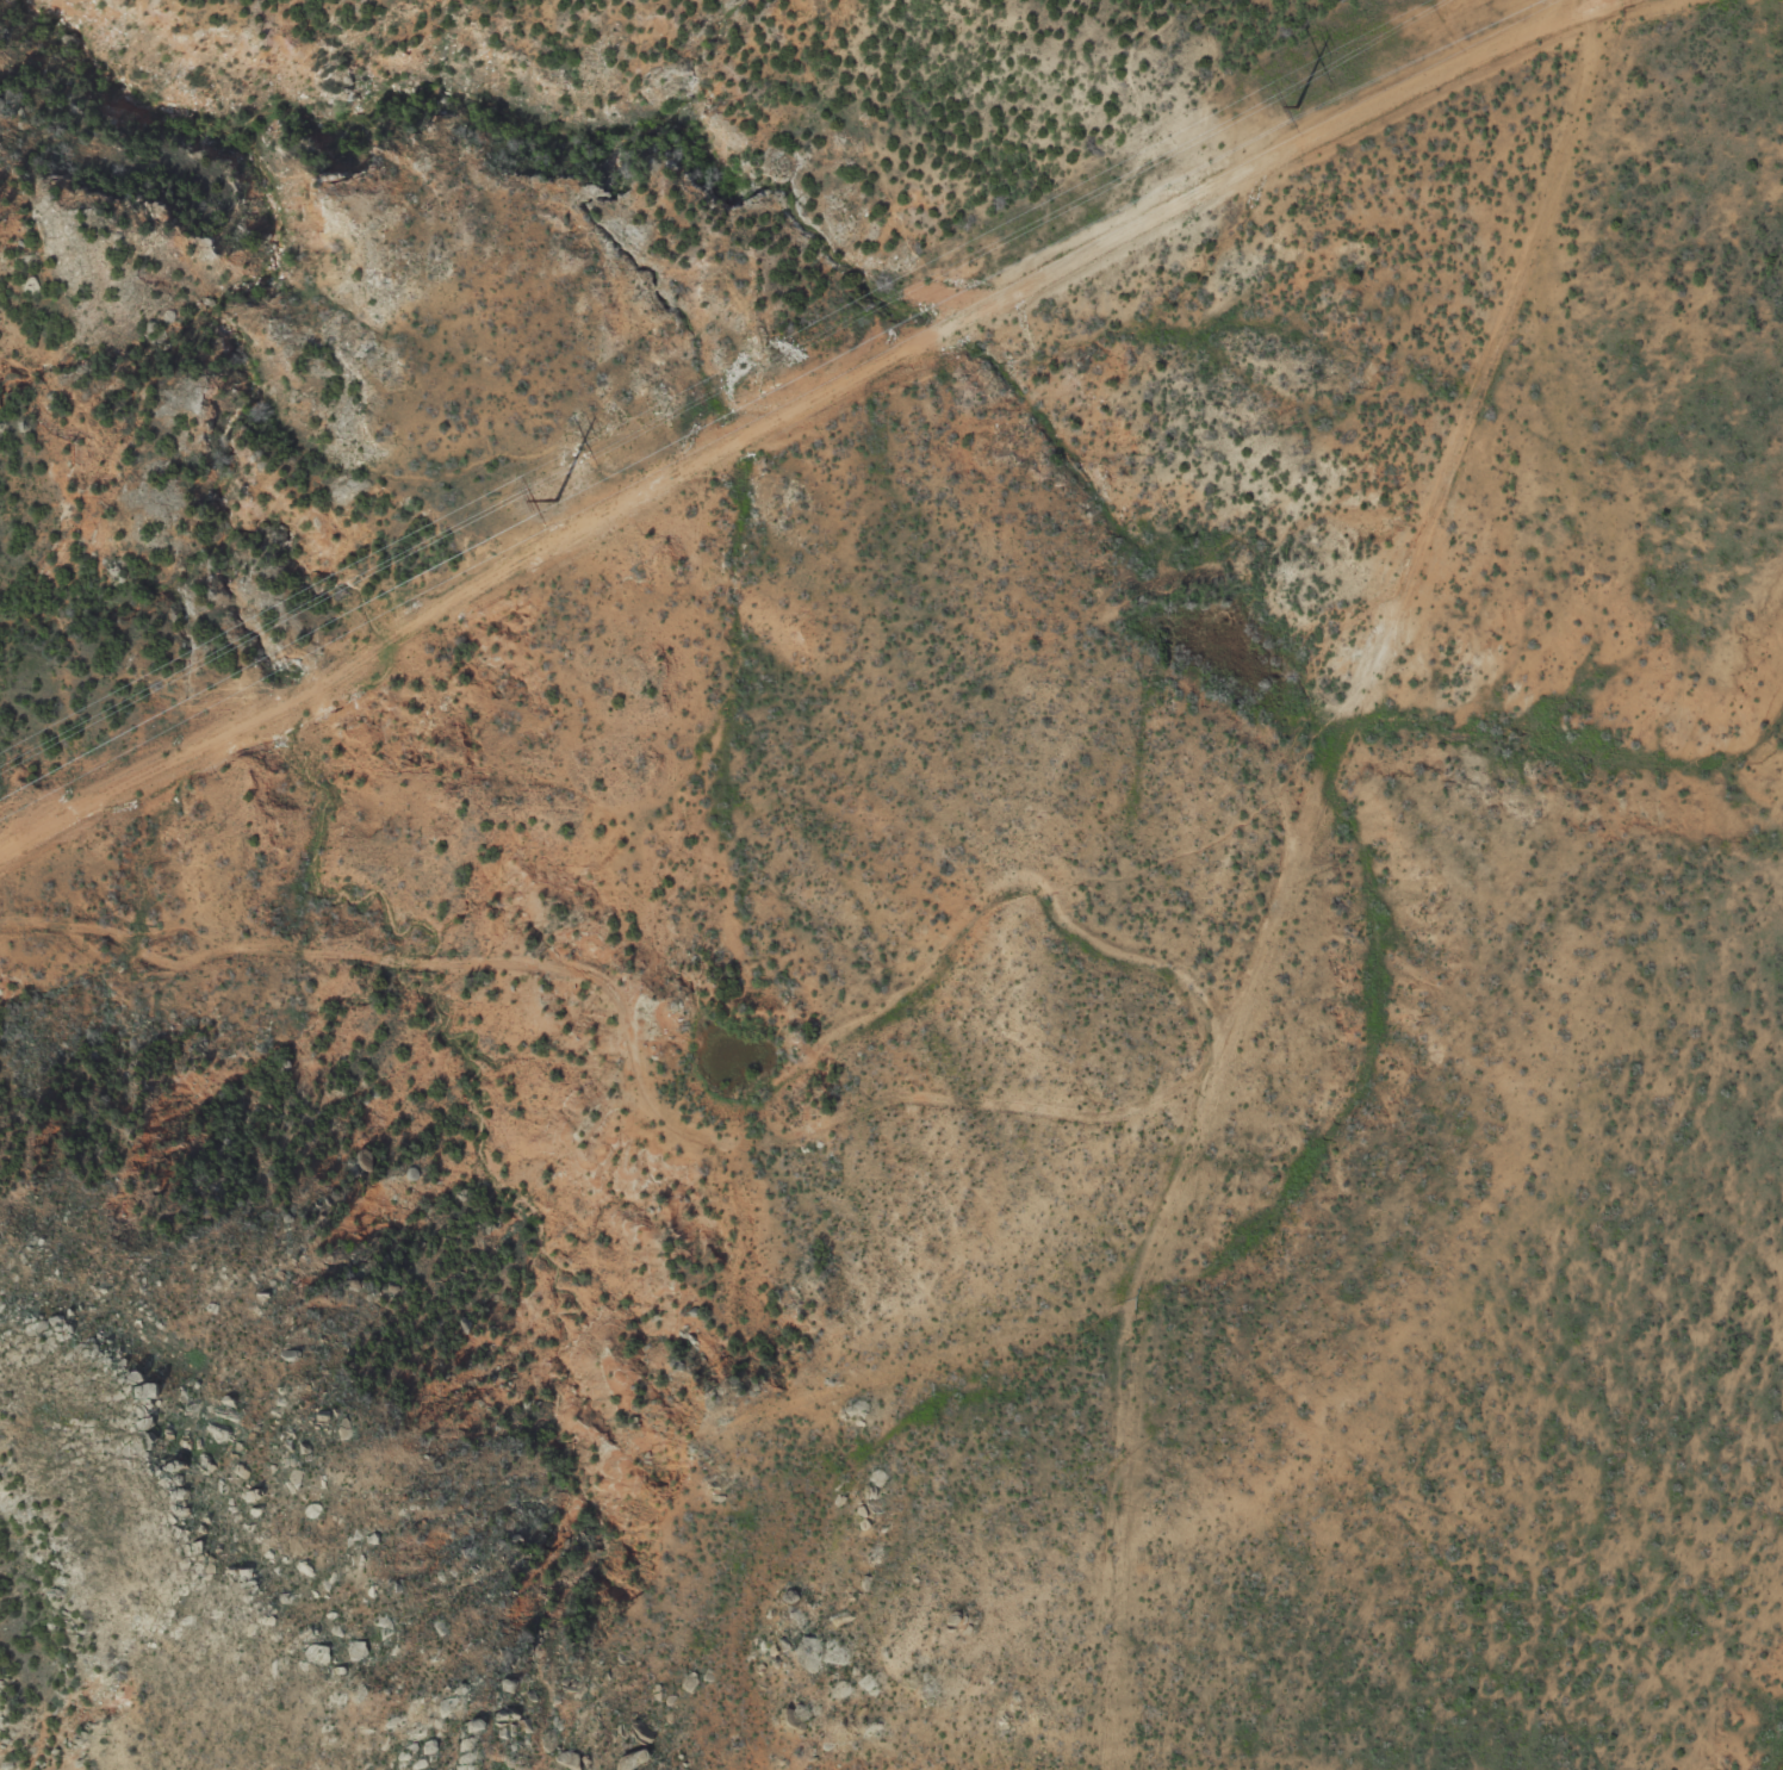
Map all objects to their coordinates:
power tower: (1294, 107)
power tower: (553, 498)

